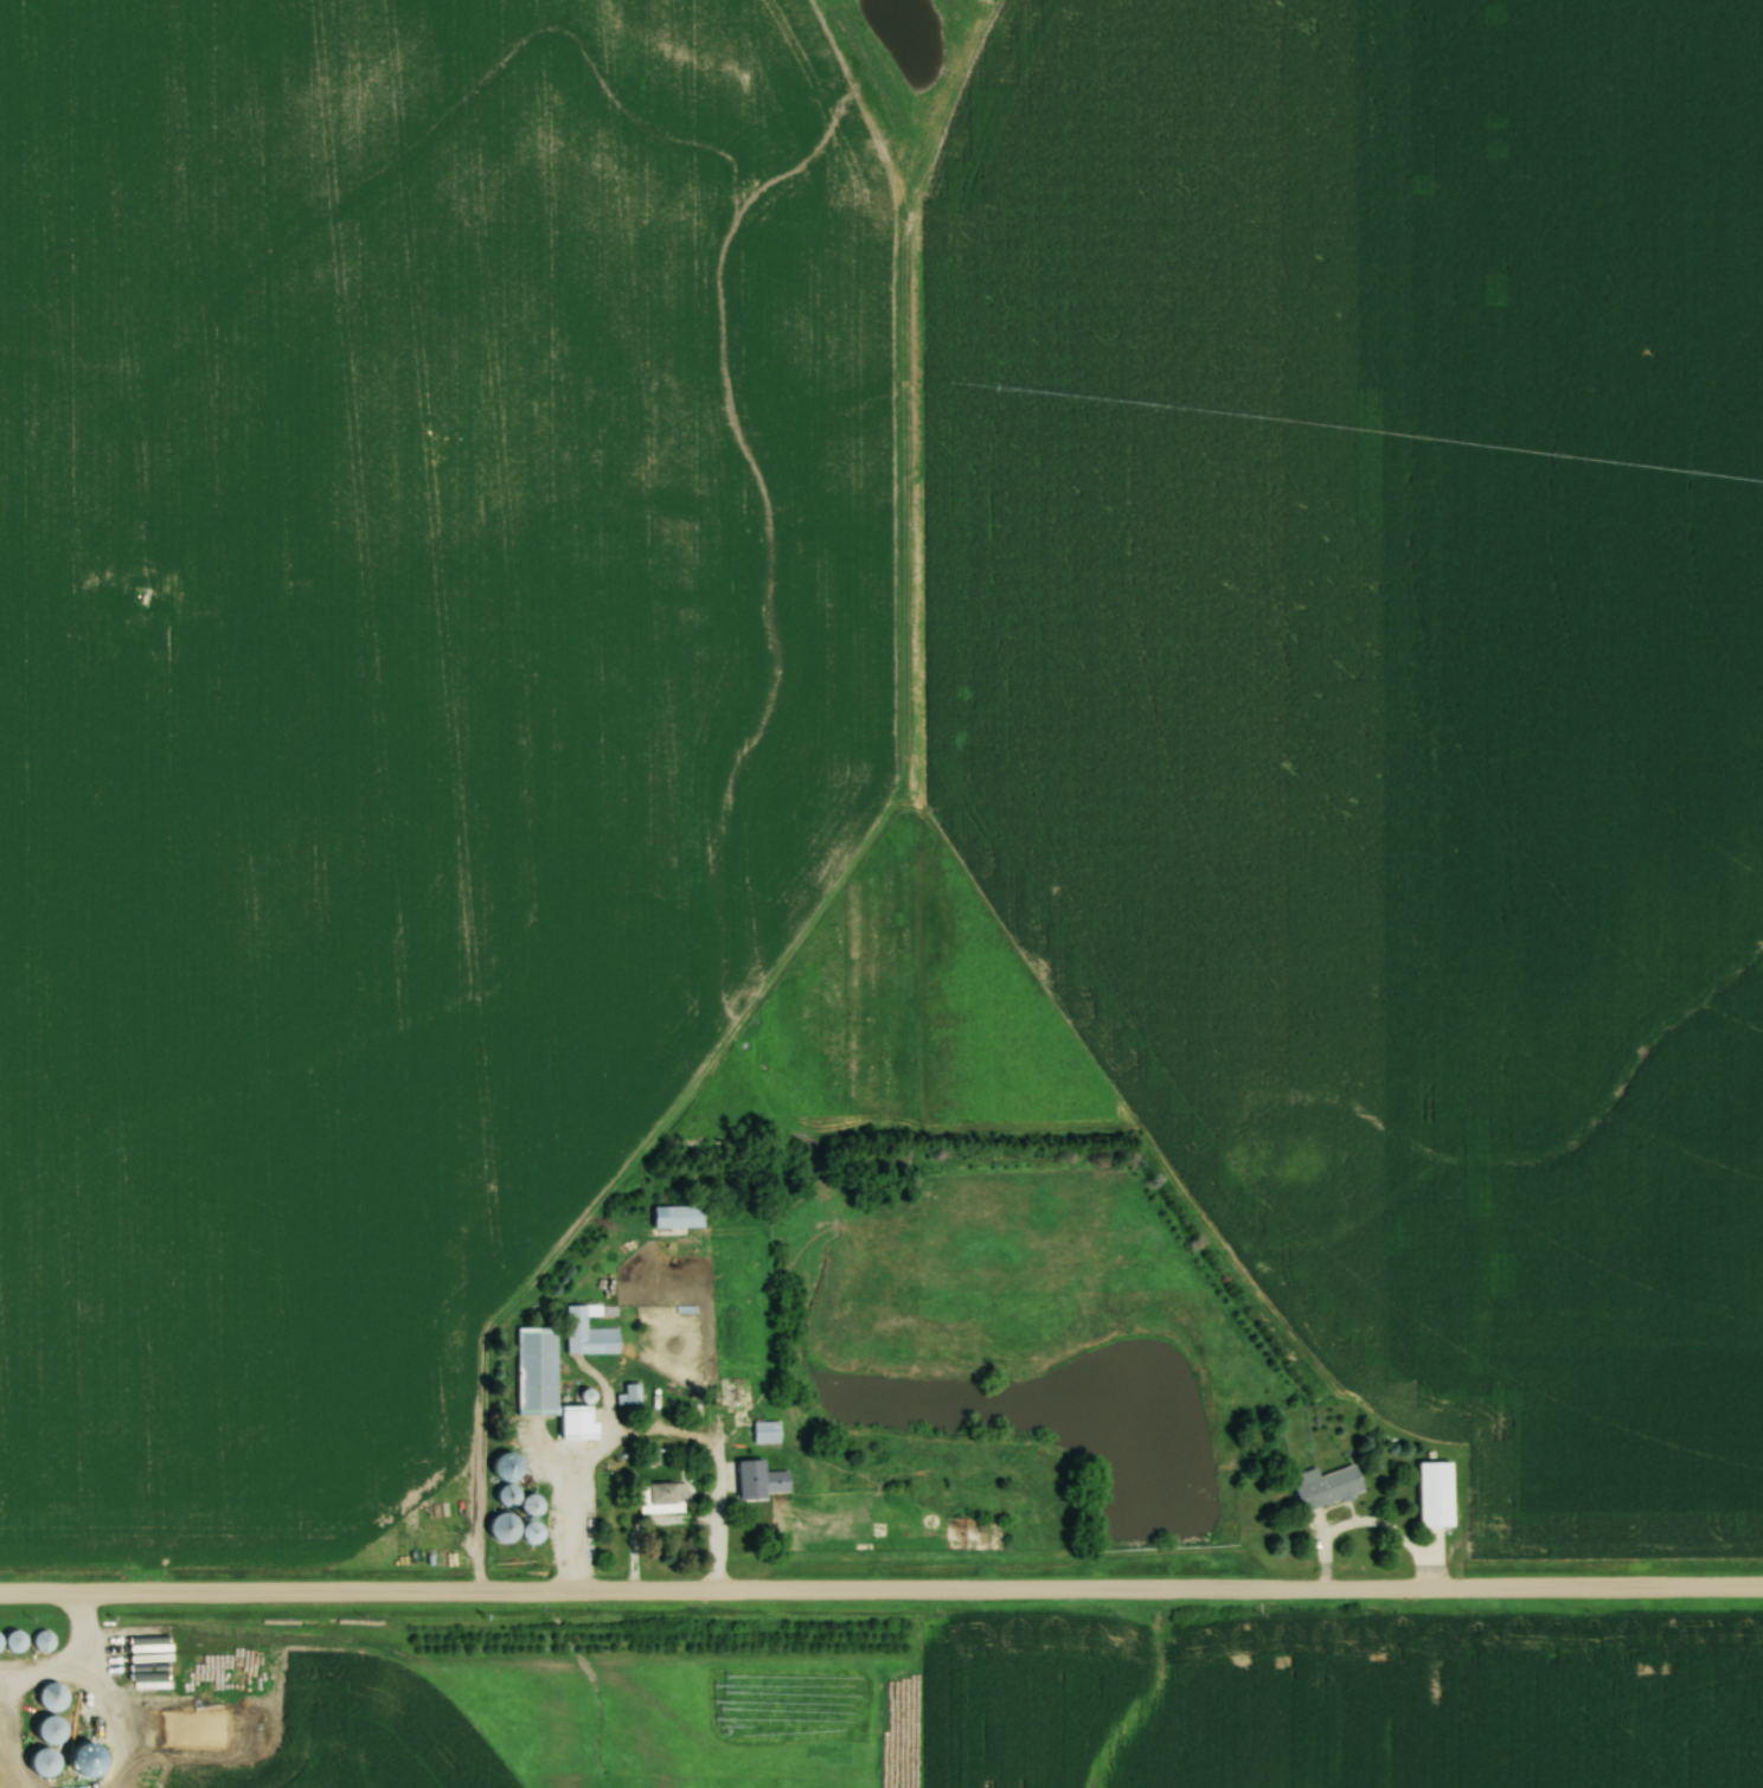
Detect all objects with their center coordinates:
building: (682, 1216)
building: (596, 1332)
building: (547, 1382)
building: (633, 1393)
building: (769, 1431)
building: (756, 1483)
building: (1333, 1485)
building: (665, 1497)
building: (527, 1499)
road: (678, 1521)
road: (1371, 1526)
road: (880, 1592)
building: (47, 1640)
building: (21, 1641)
building: (4, 1643)
building: (59, 1697)
building: (58, 1729)
building: (52, 1762)

